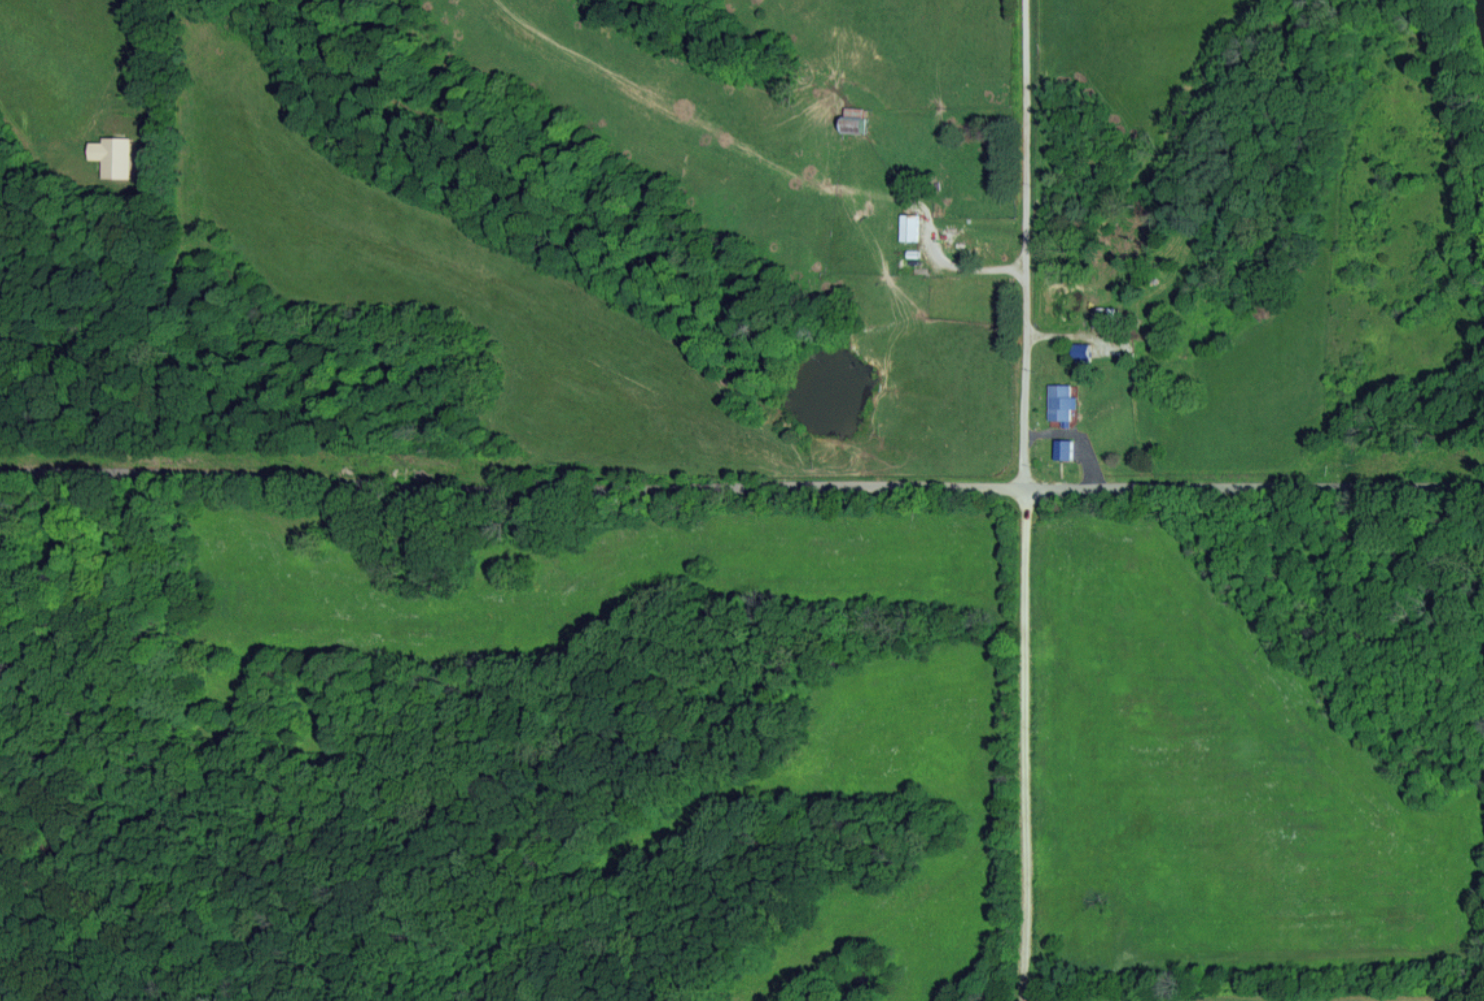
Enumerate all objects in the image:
building: (846, 123)
building: (119, 157)
building: (1062, 402)
building: (1062, 448)
road: (742, 487)
road: (1024, 500)

